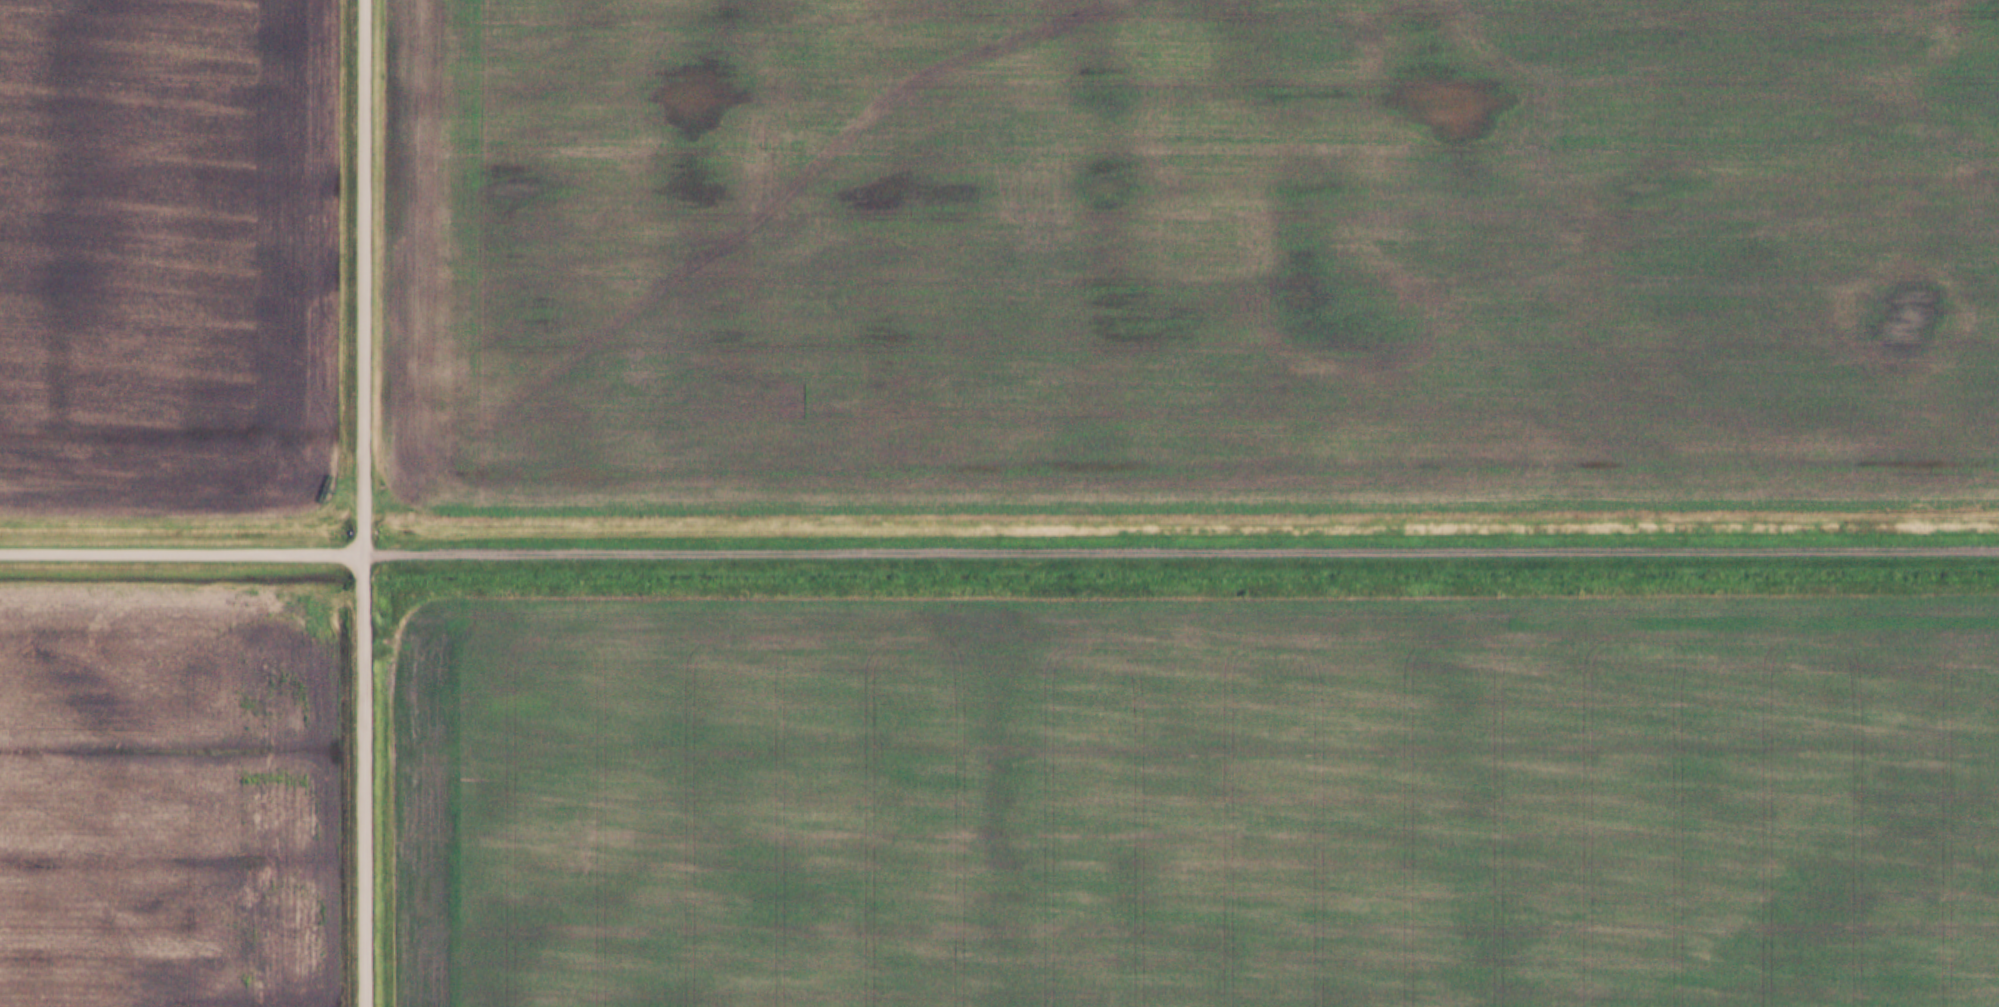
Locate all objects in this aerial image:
road: (365, 503)
road: (1181, 552)
road: (182, 554)

